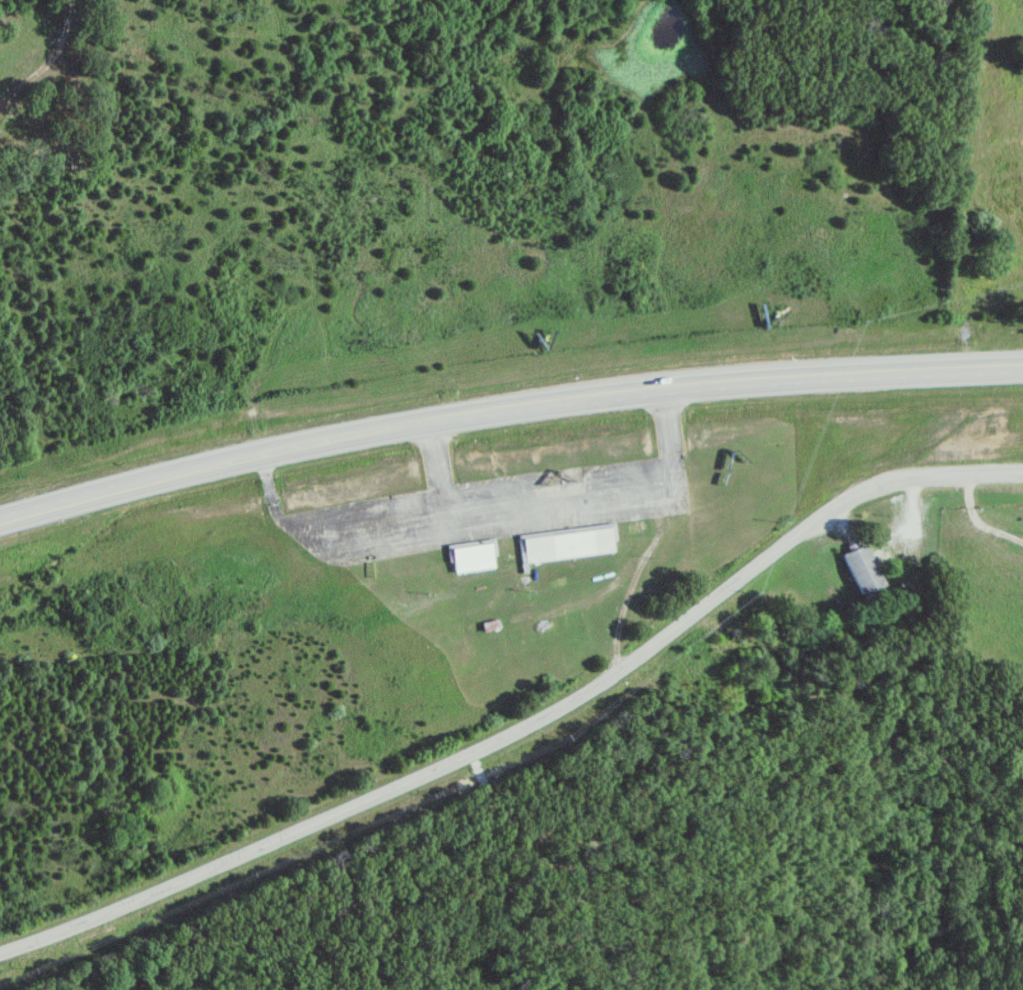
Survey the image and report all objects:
road: (506, 411)
road: (977, 520)
building: (639, 526)
building: (566, 543)
building: (471, 556)
building: (858, 570)
road: (527, 725)

